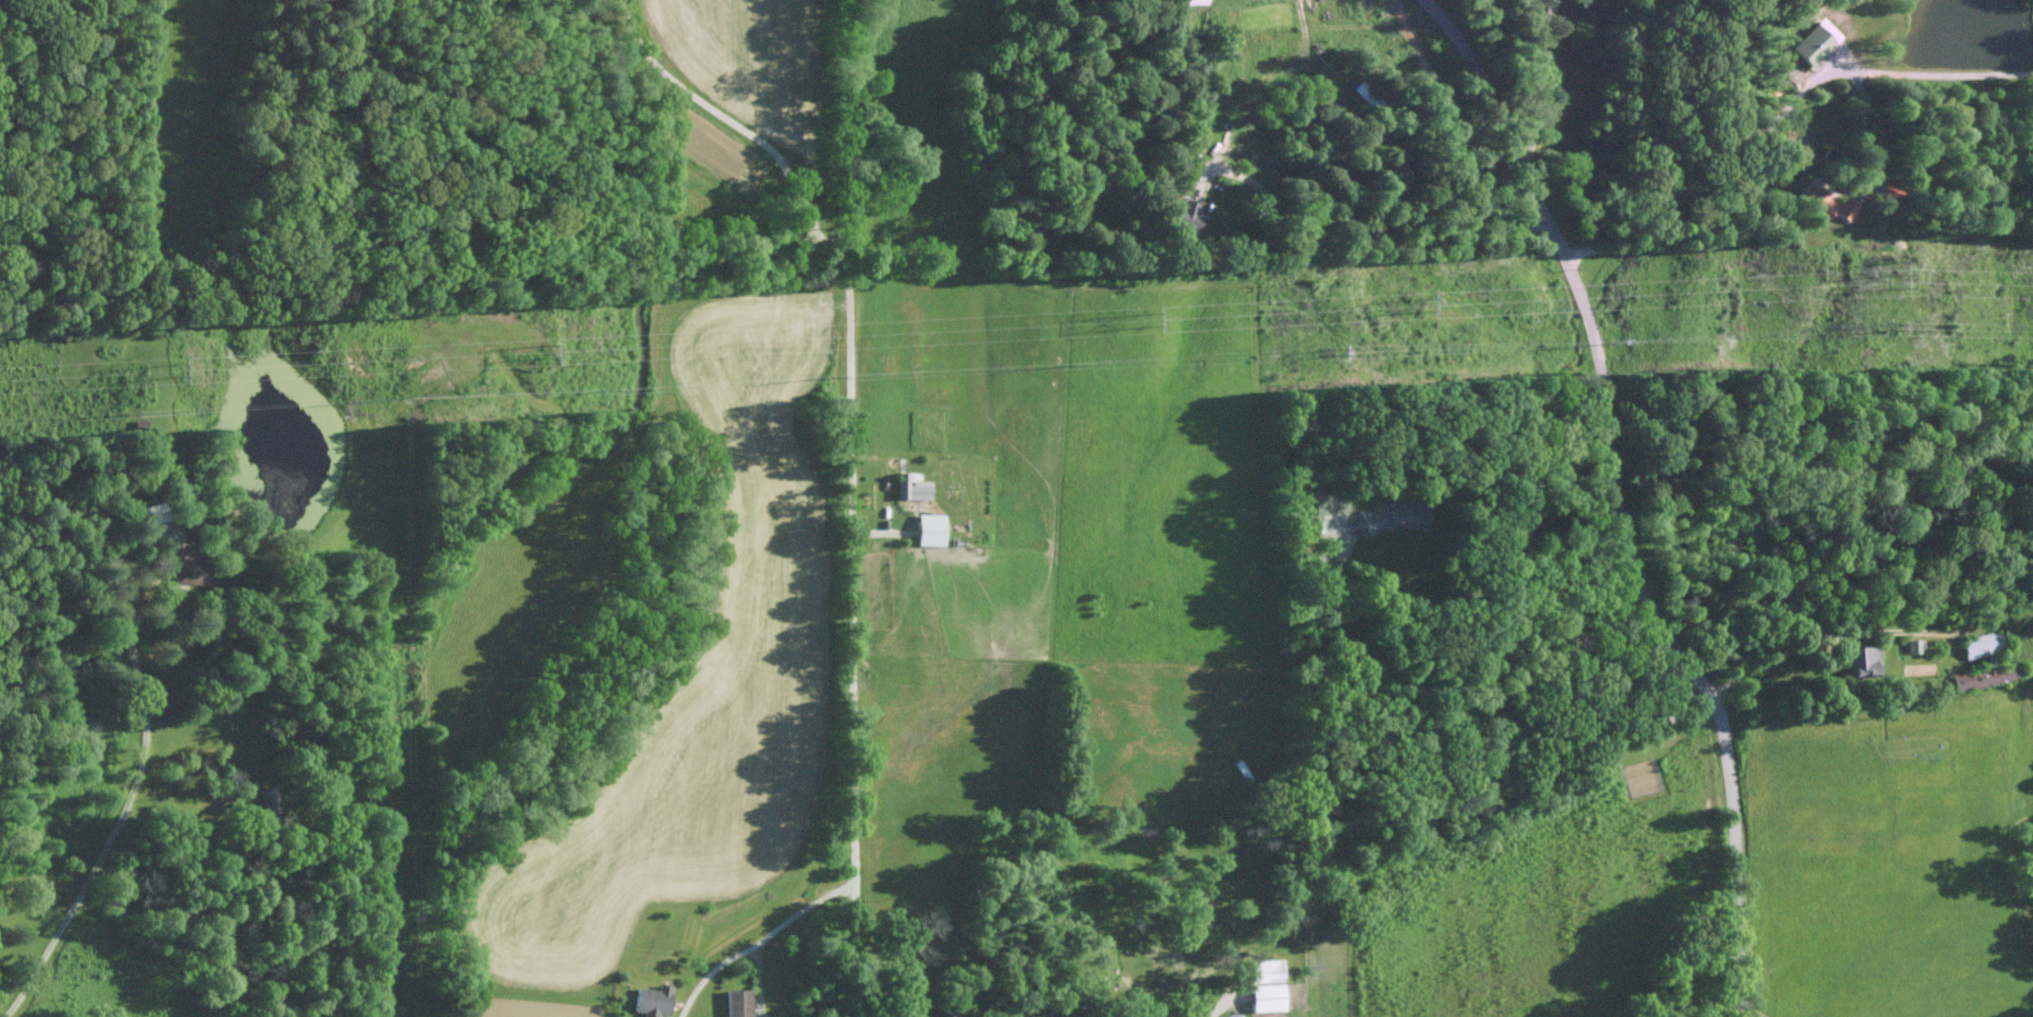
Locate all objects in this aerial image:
building: (1809, 46)
road: (707, 104)
road: (1775, 124)
road: (1863, 129)
building: (1812, 203)
building: (1842, 209)
road: (807, 216)
building: (1180, 216)
road: (835, 254)
power tower: (1899, 276)
power tower: (1422, 303)
power tower: (1149, 319)
power tower: (1899, 322)
power tower: (1624, 334)
power tower: (543, 350)
power tower: (1342, 352)
power tower: (1077, 362)
power tower: (176, 369)
power tower: (839, 371)
power tower: (615, 388)
power tower: (403, 397)
power tower: (139, 411)
building: (909, 487)
road: (1629, 492)
building: (1329, 501)
building: (1393, 515)
building: (926, 529)
building: (177, 571)
road: (1823, 634)
building: (1979, 644)
building: (1912, 646)
road: (857, 649)
building: (1860, 659)
building: (1971, 678)
road: (1449, 687)
road: (130, 800)
road: (756, 940)
building: (1263, 984)
building: (649, 1000)
building: (734, 1002)
road: (1224, 1002)

